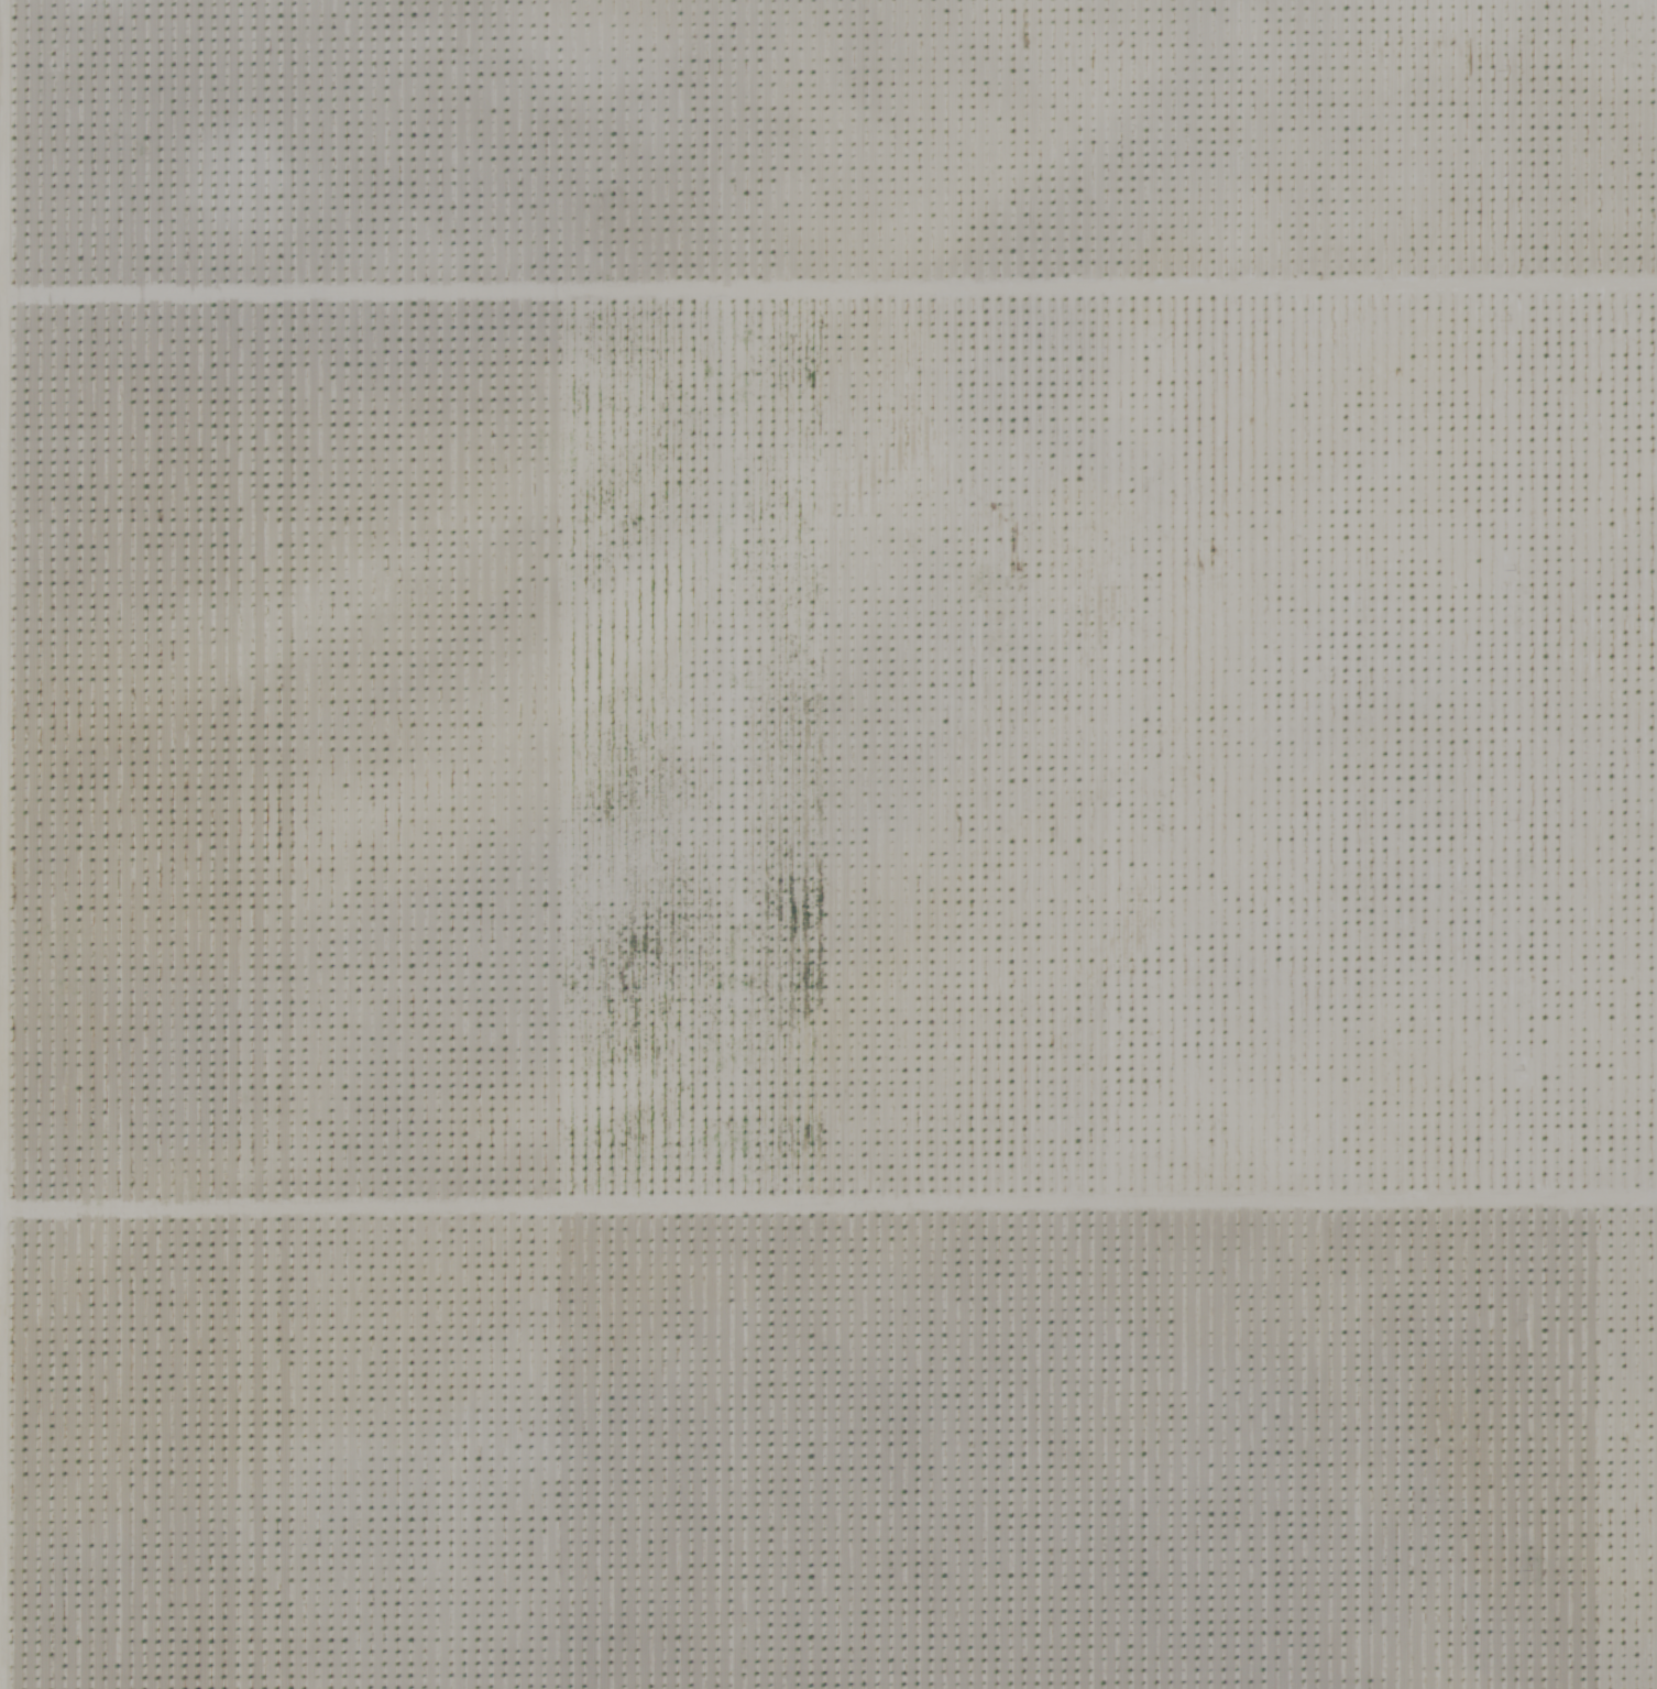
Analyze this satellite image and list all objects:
crop: (835, 845)
road: (1, 1612)

